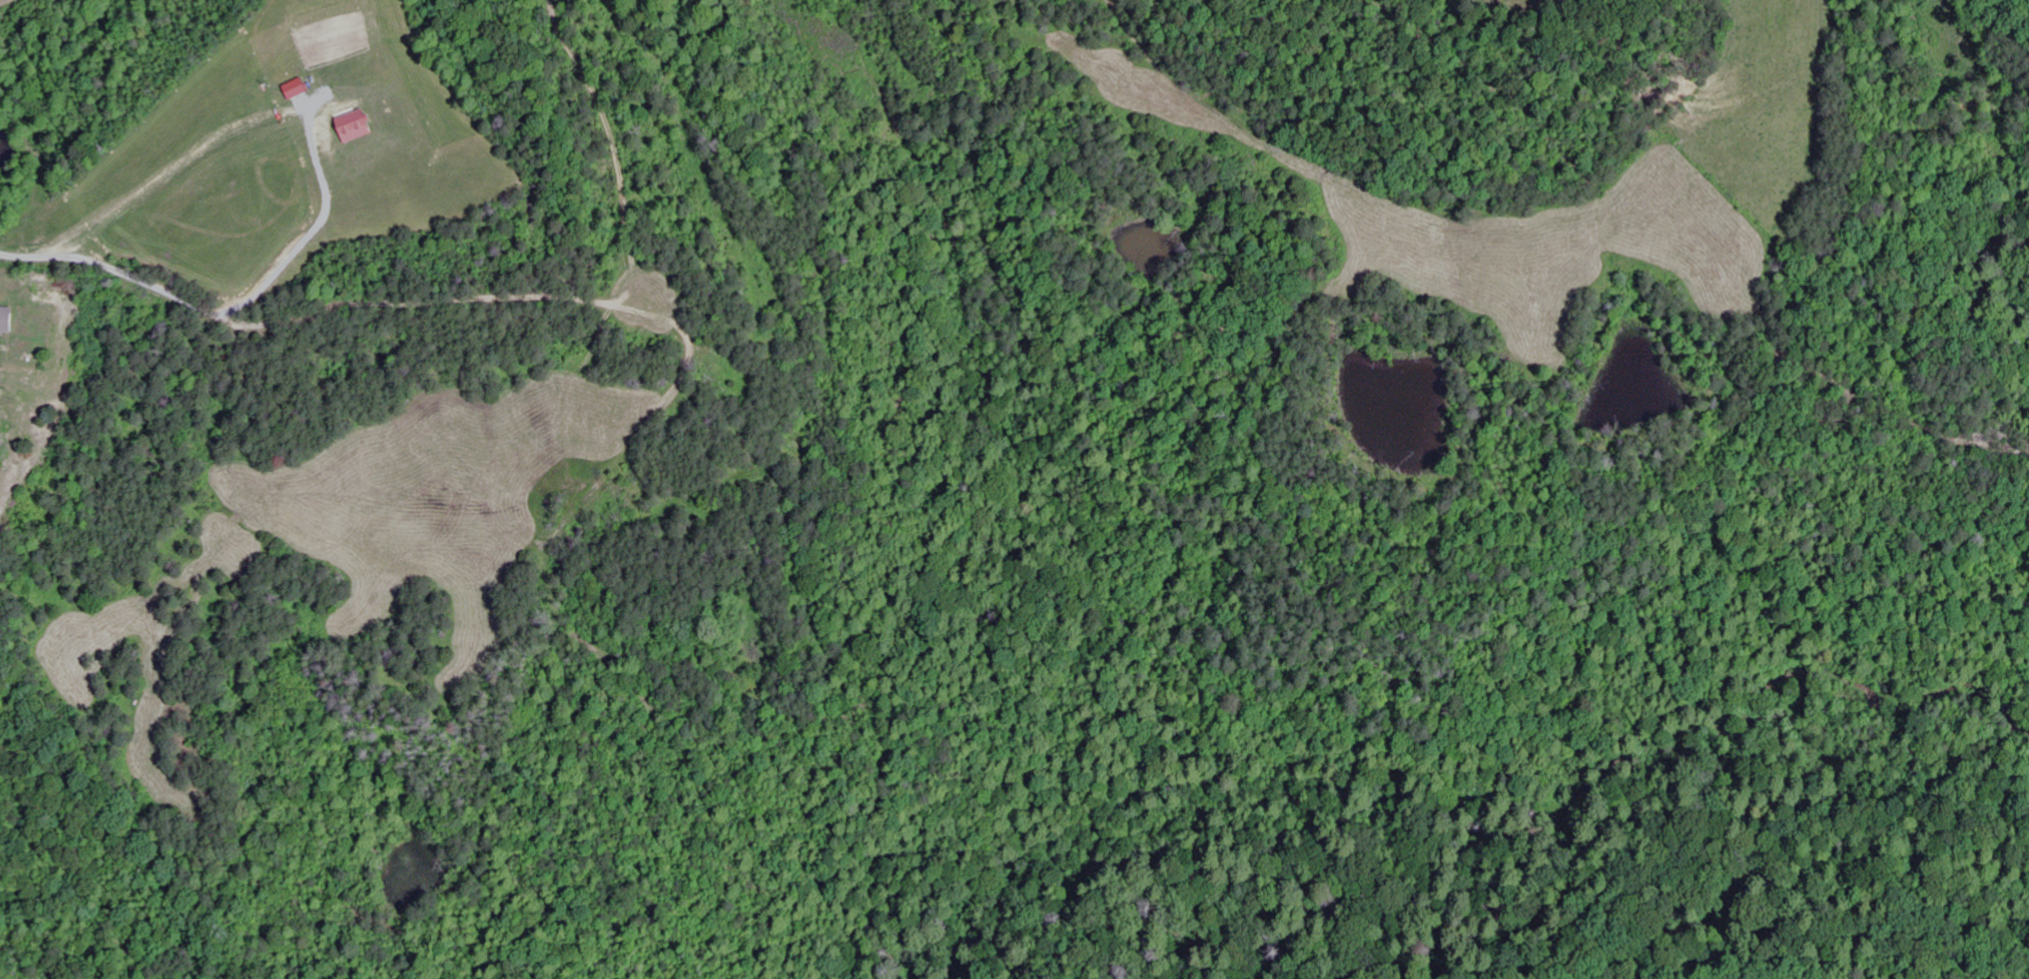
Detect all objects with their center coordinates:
building: (301, 90)
building: (8, 320)
river: (1479, 839)

